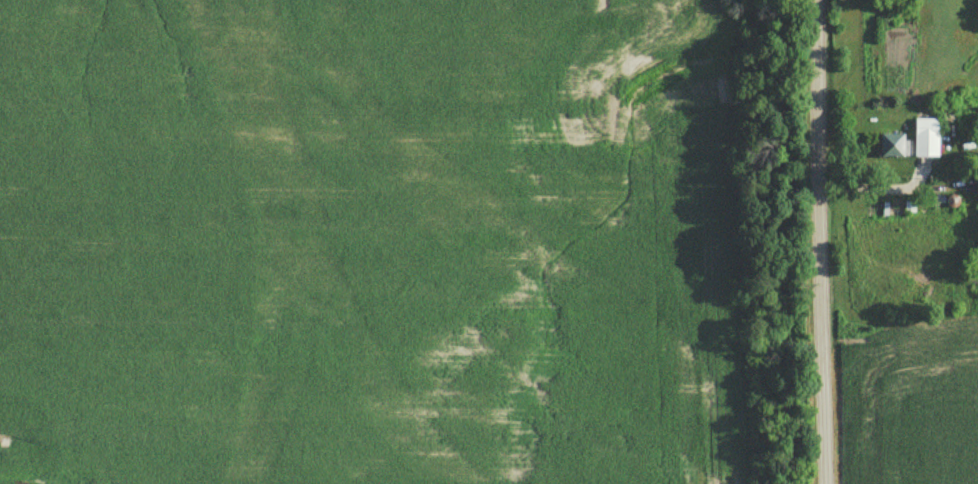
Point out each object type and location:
building: (925, 138)
building: (892, 146)
road: (820, 241)

